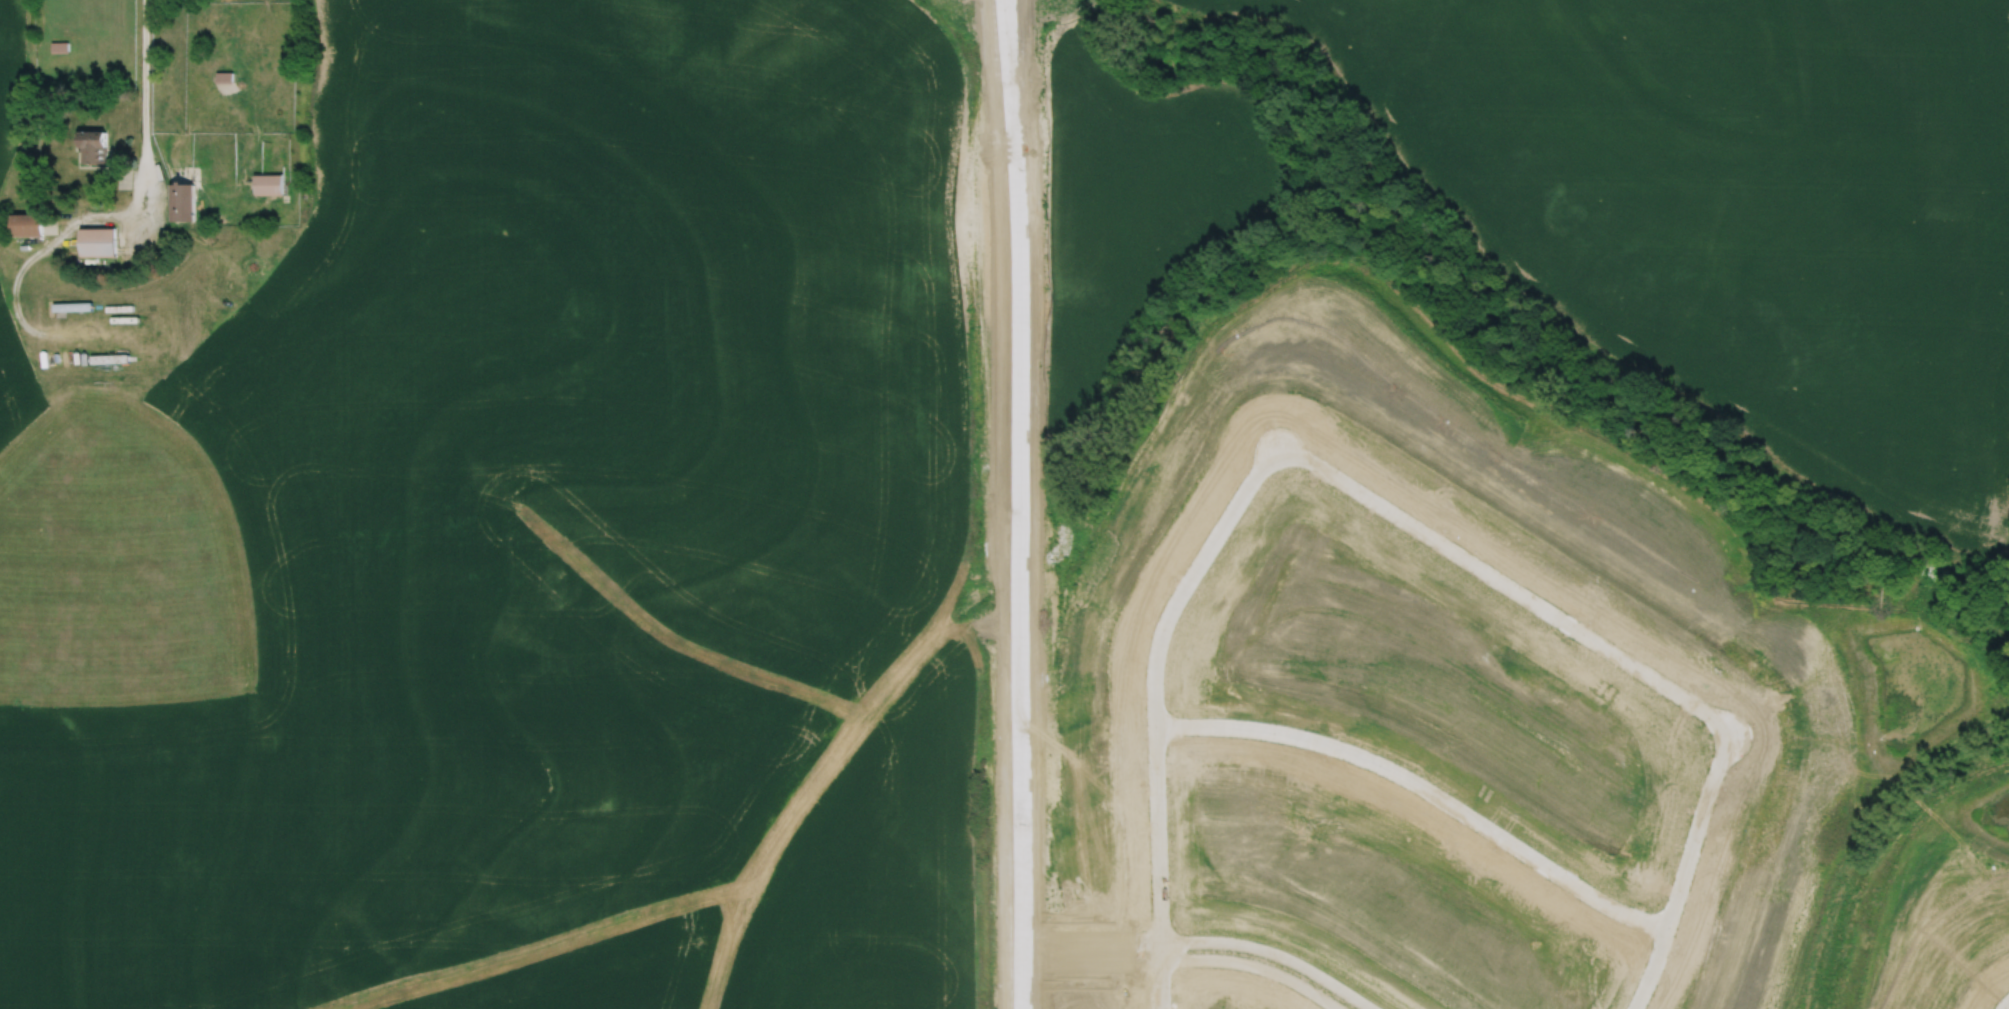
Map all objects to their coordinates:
building: (59, 45)
crop: (15, 73)
building: (223, 75)
building: (93, 145)
building: (268, 182)
building: (181, 201)
crop: (1737, 211)
crop: (1109, 213)
road: (88, 215)
building: (27, 224)
building: (98, 241)
building: (72, 305)
building: (108, 358)
road: (1013, 504)
crop: (536, 545)
road: (1506, 578)
road: (1154, 705)
road: (1423, 786)
road: (1684, 865)
road: (1204, 938)
road: (1186, 956)
road: (2004, 1004)

